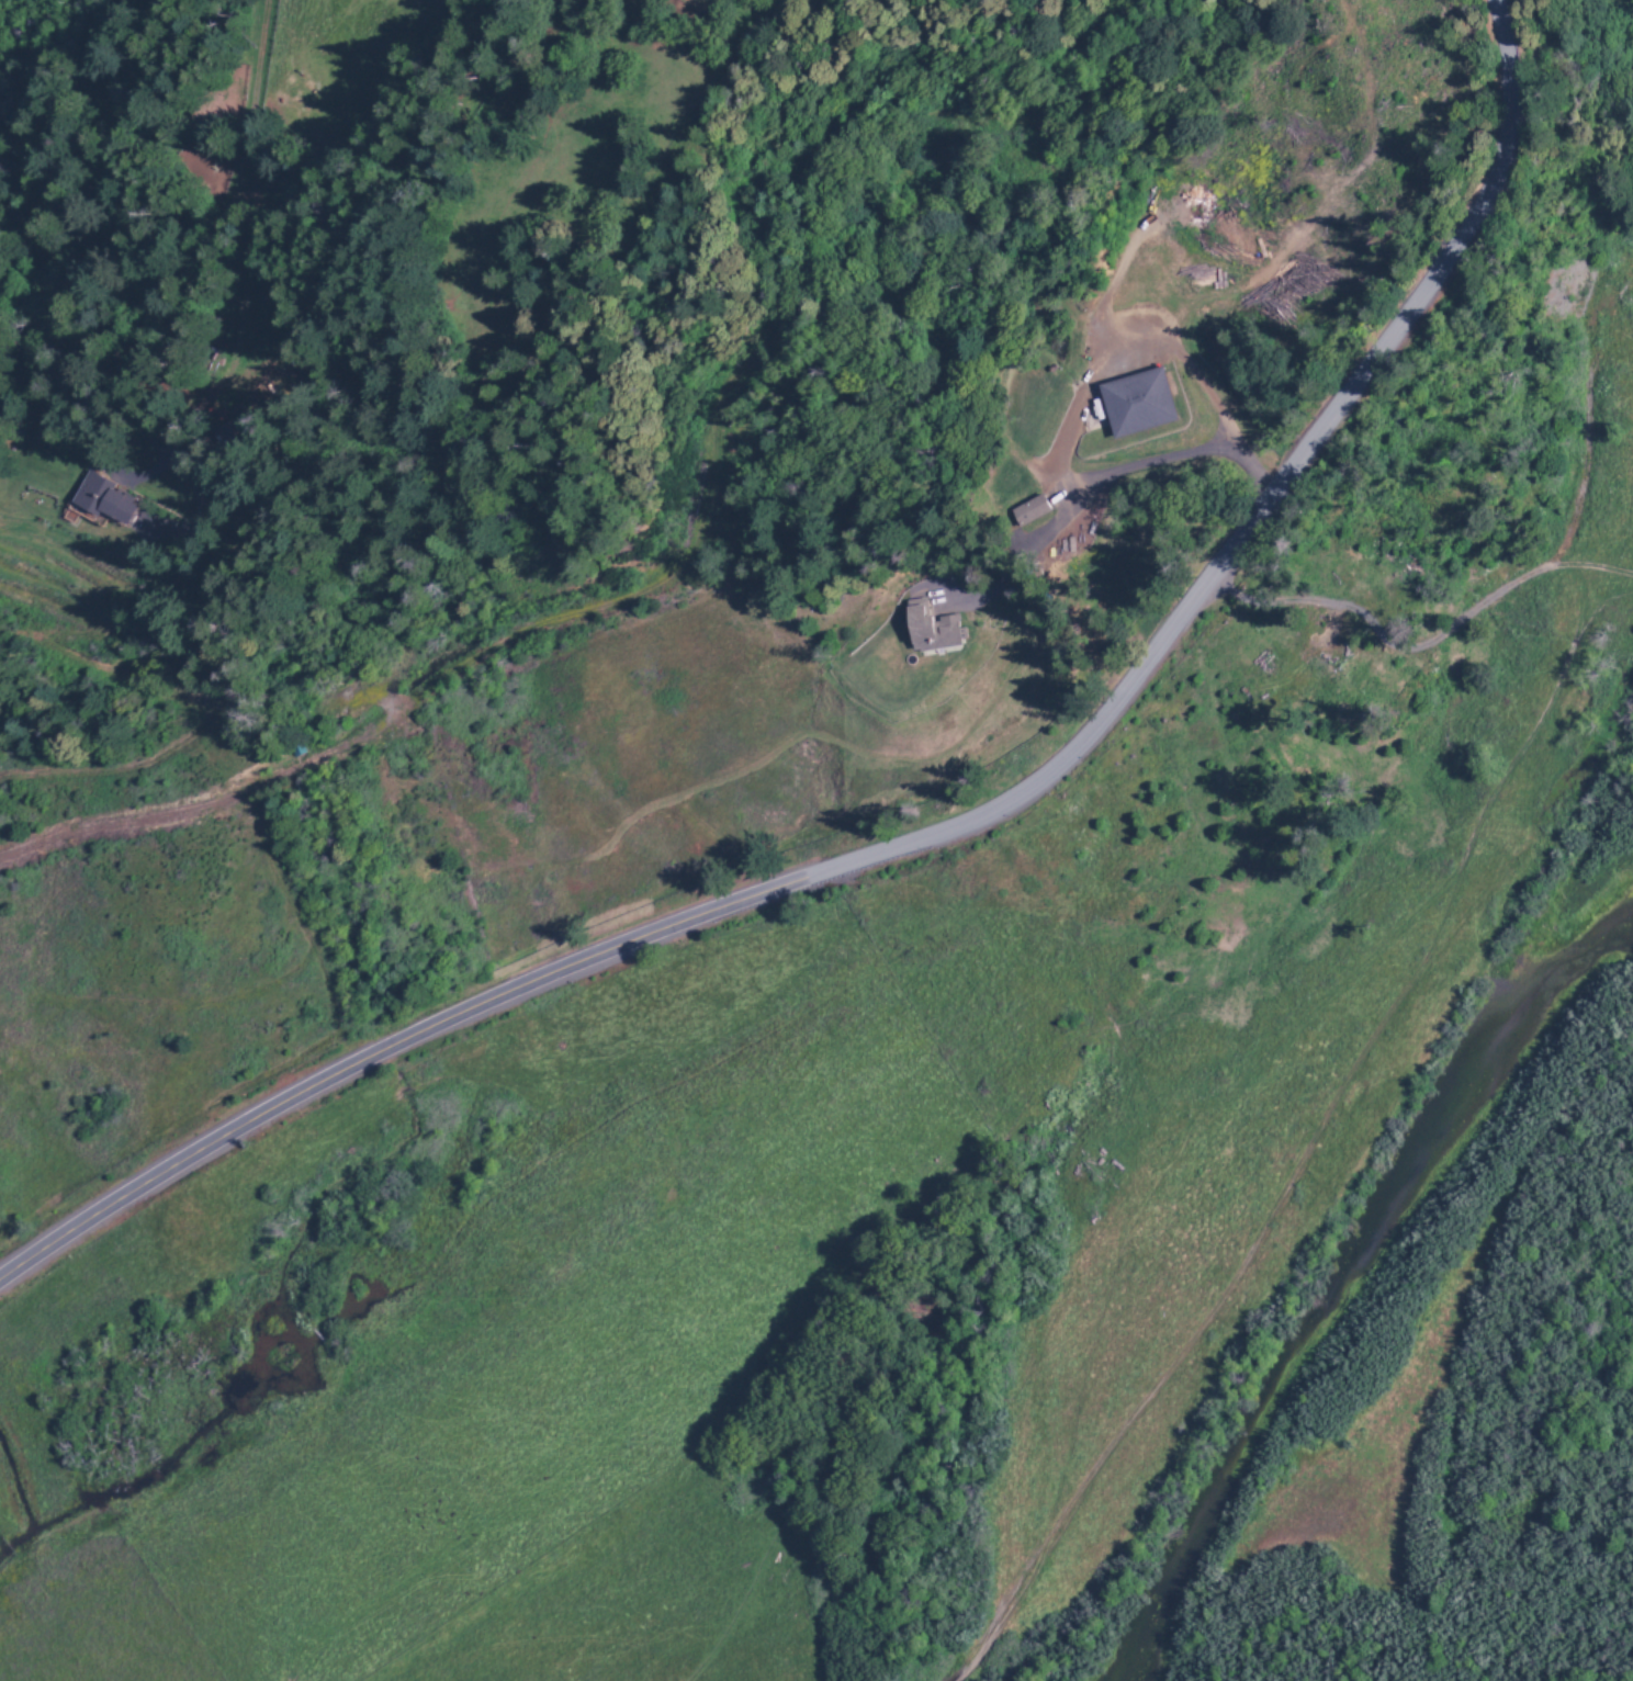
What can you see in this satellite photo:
road: (15, 18)
road: (91, 136)
road: (72, 393)
building: (1139, 402)
building: (104, 498)
road: (946, 834)

